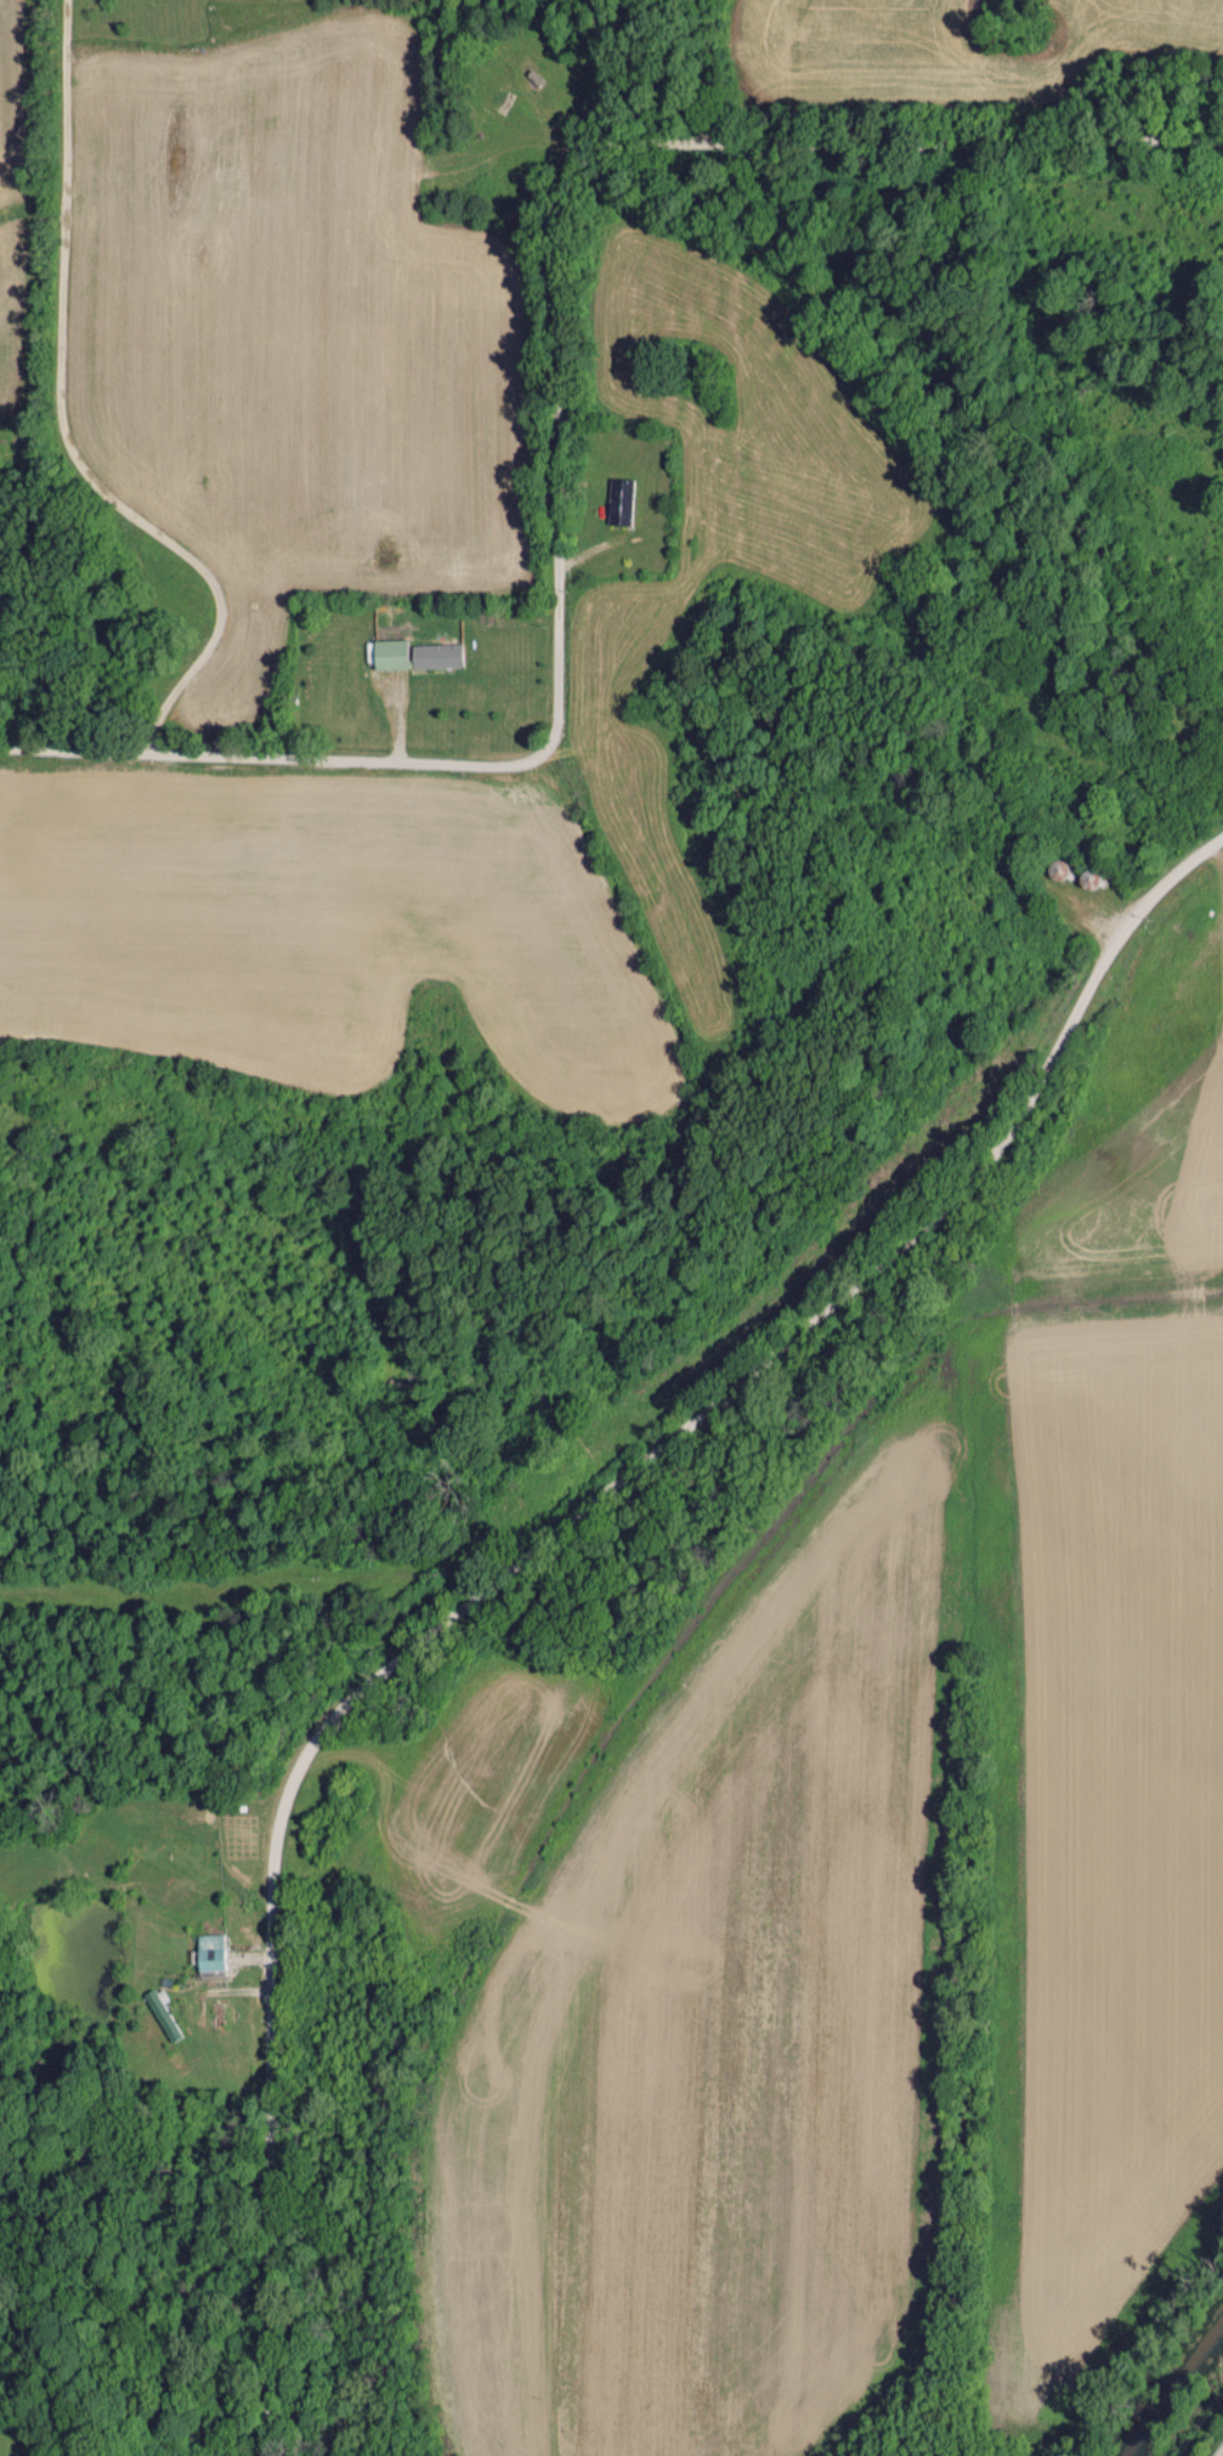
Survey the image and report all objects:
road: (560, 409)
building: (621, 500)
building: (386, 653)
building: (434, 656)
road: (531, 1551)

